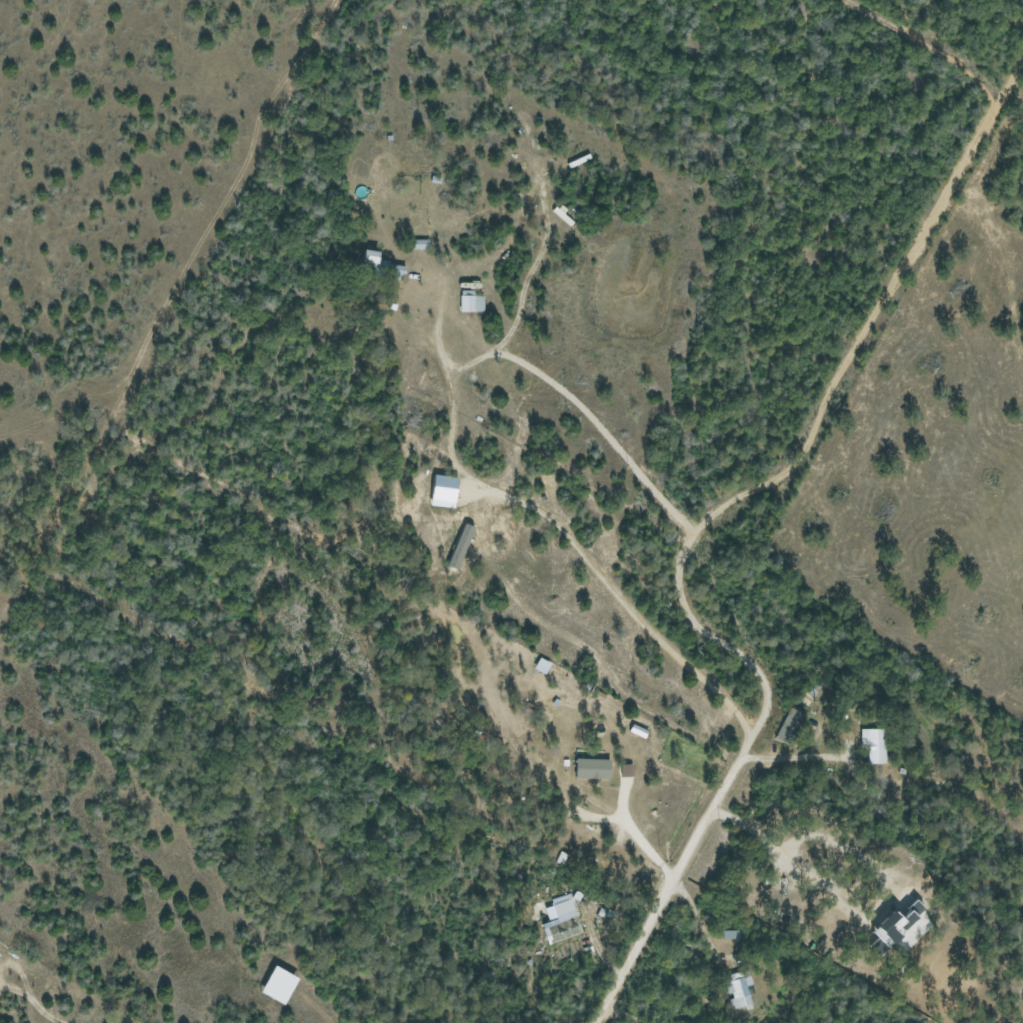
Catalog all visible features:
road: (947, 52)
building: (422, 244)
building: (373, 256)
building: (470, 302)
road: (471, 362)
road: (881, 366)
road: (537, 372)
building: (445, 491)
road: (697, 527)
building: (461, 545)
road: (608, 578)
road: (512, 598)
building: (790, 726)
building: (639, 731)
building: (873, 744)
road: (795, 759)
building: (593, 768)
building: (578, 813)
road: (639, 840)
building: (562, 918)
road: (698, 924)
building: (896, 927)
building: (730, 934)
building: (280, 985)
building: (739, 989)
road: (30, 1003)

